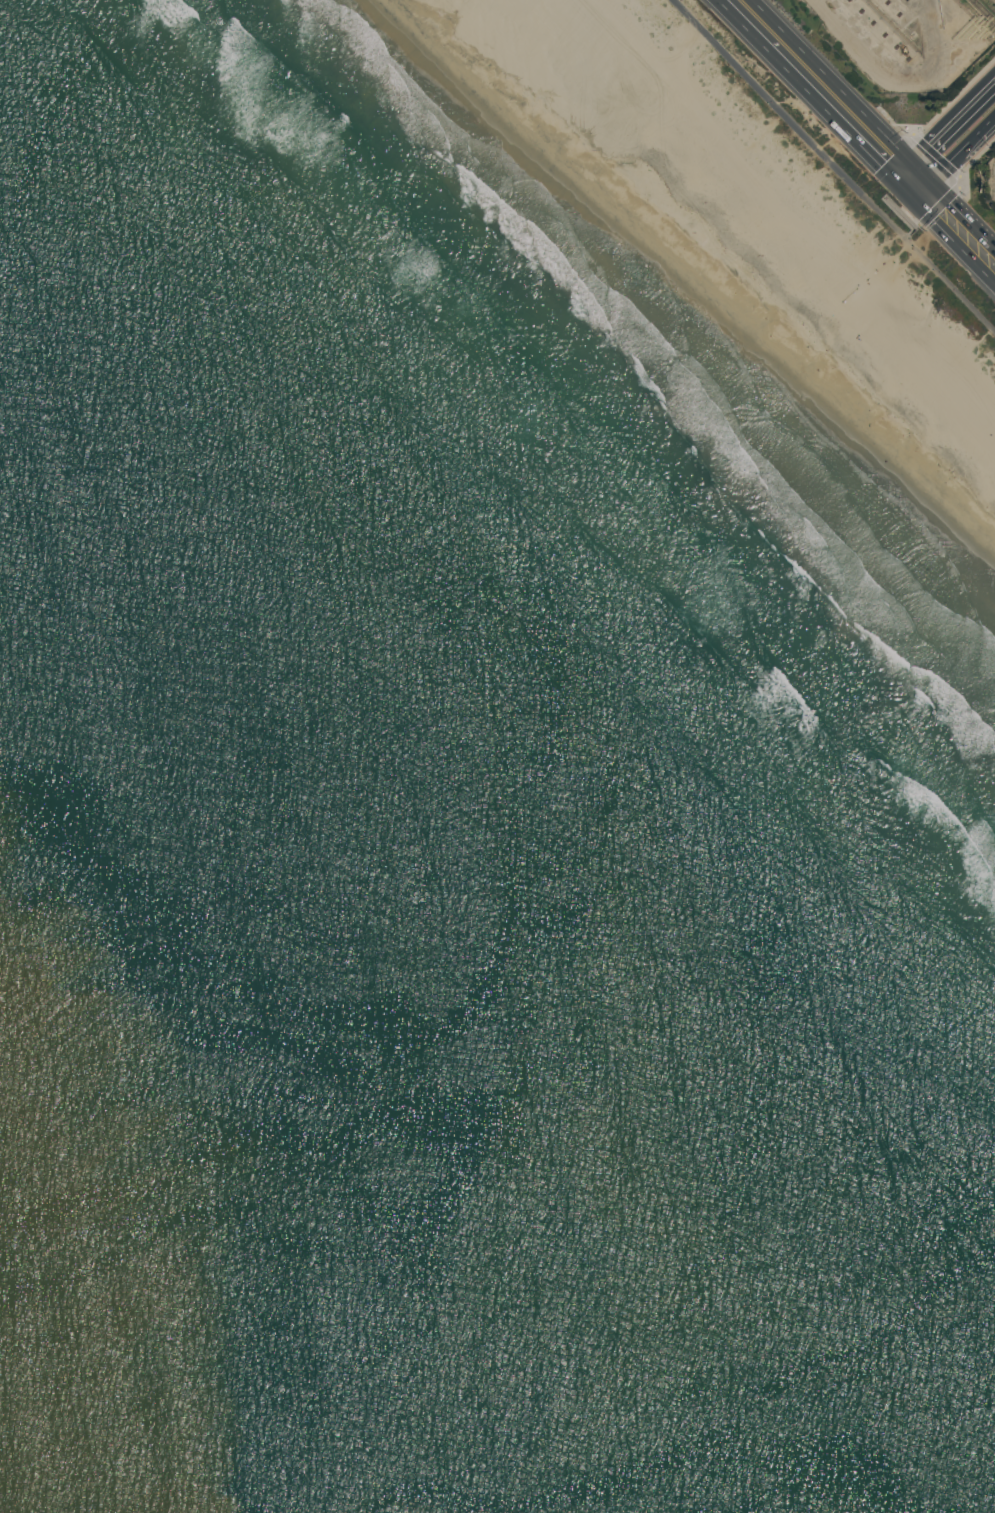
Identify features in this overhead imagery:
road: (824, 90)
road: (949, 128)
road: (912, 145)
road: (958, 157)
road: (834, 164)
traffic signals: (912, 181)
road: (954, 222)

